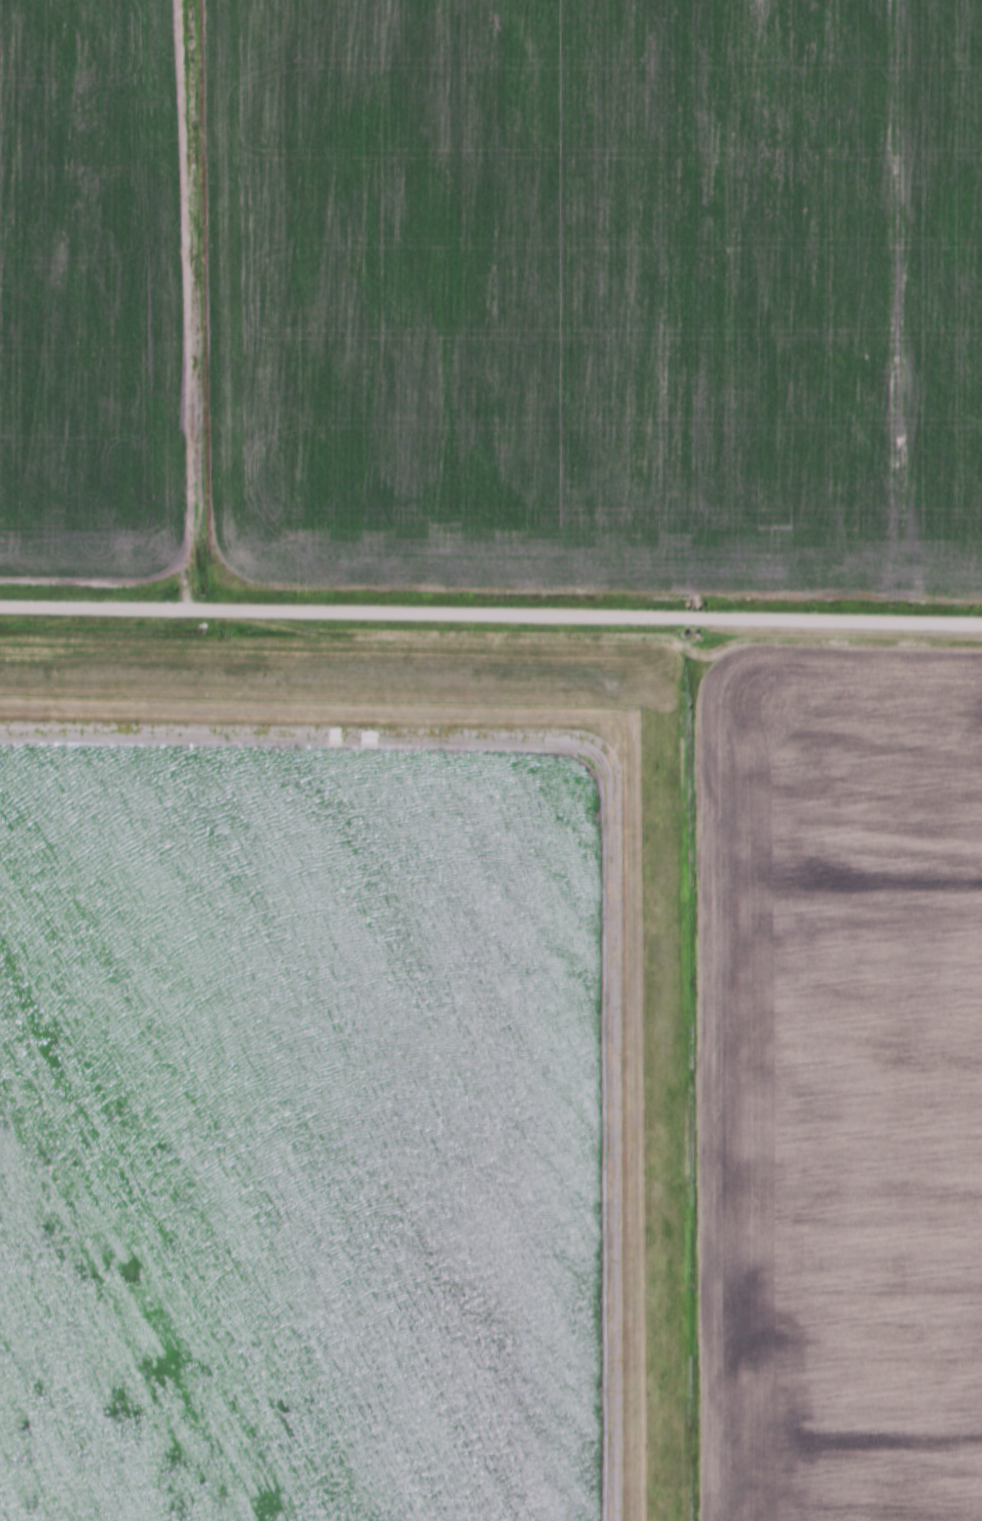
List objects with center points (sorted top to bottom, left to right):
crop: (90, 290)
crop: (596, 294)
road: (490, 618)
crop: (841, 1088)
wastewater plant: (320, 1111)

